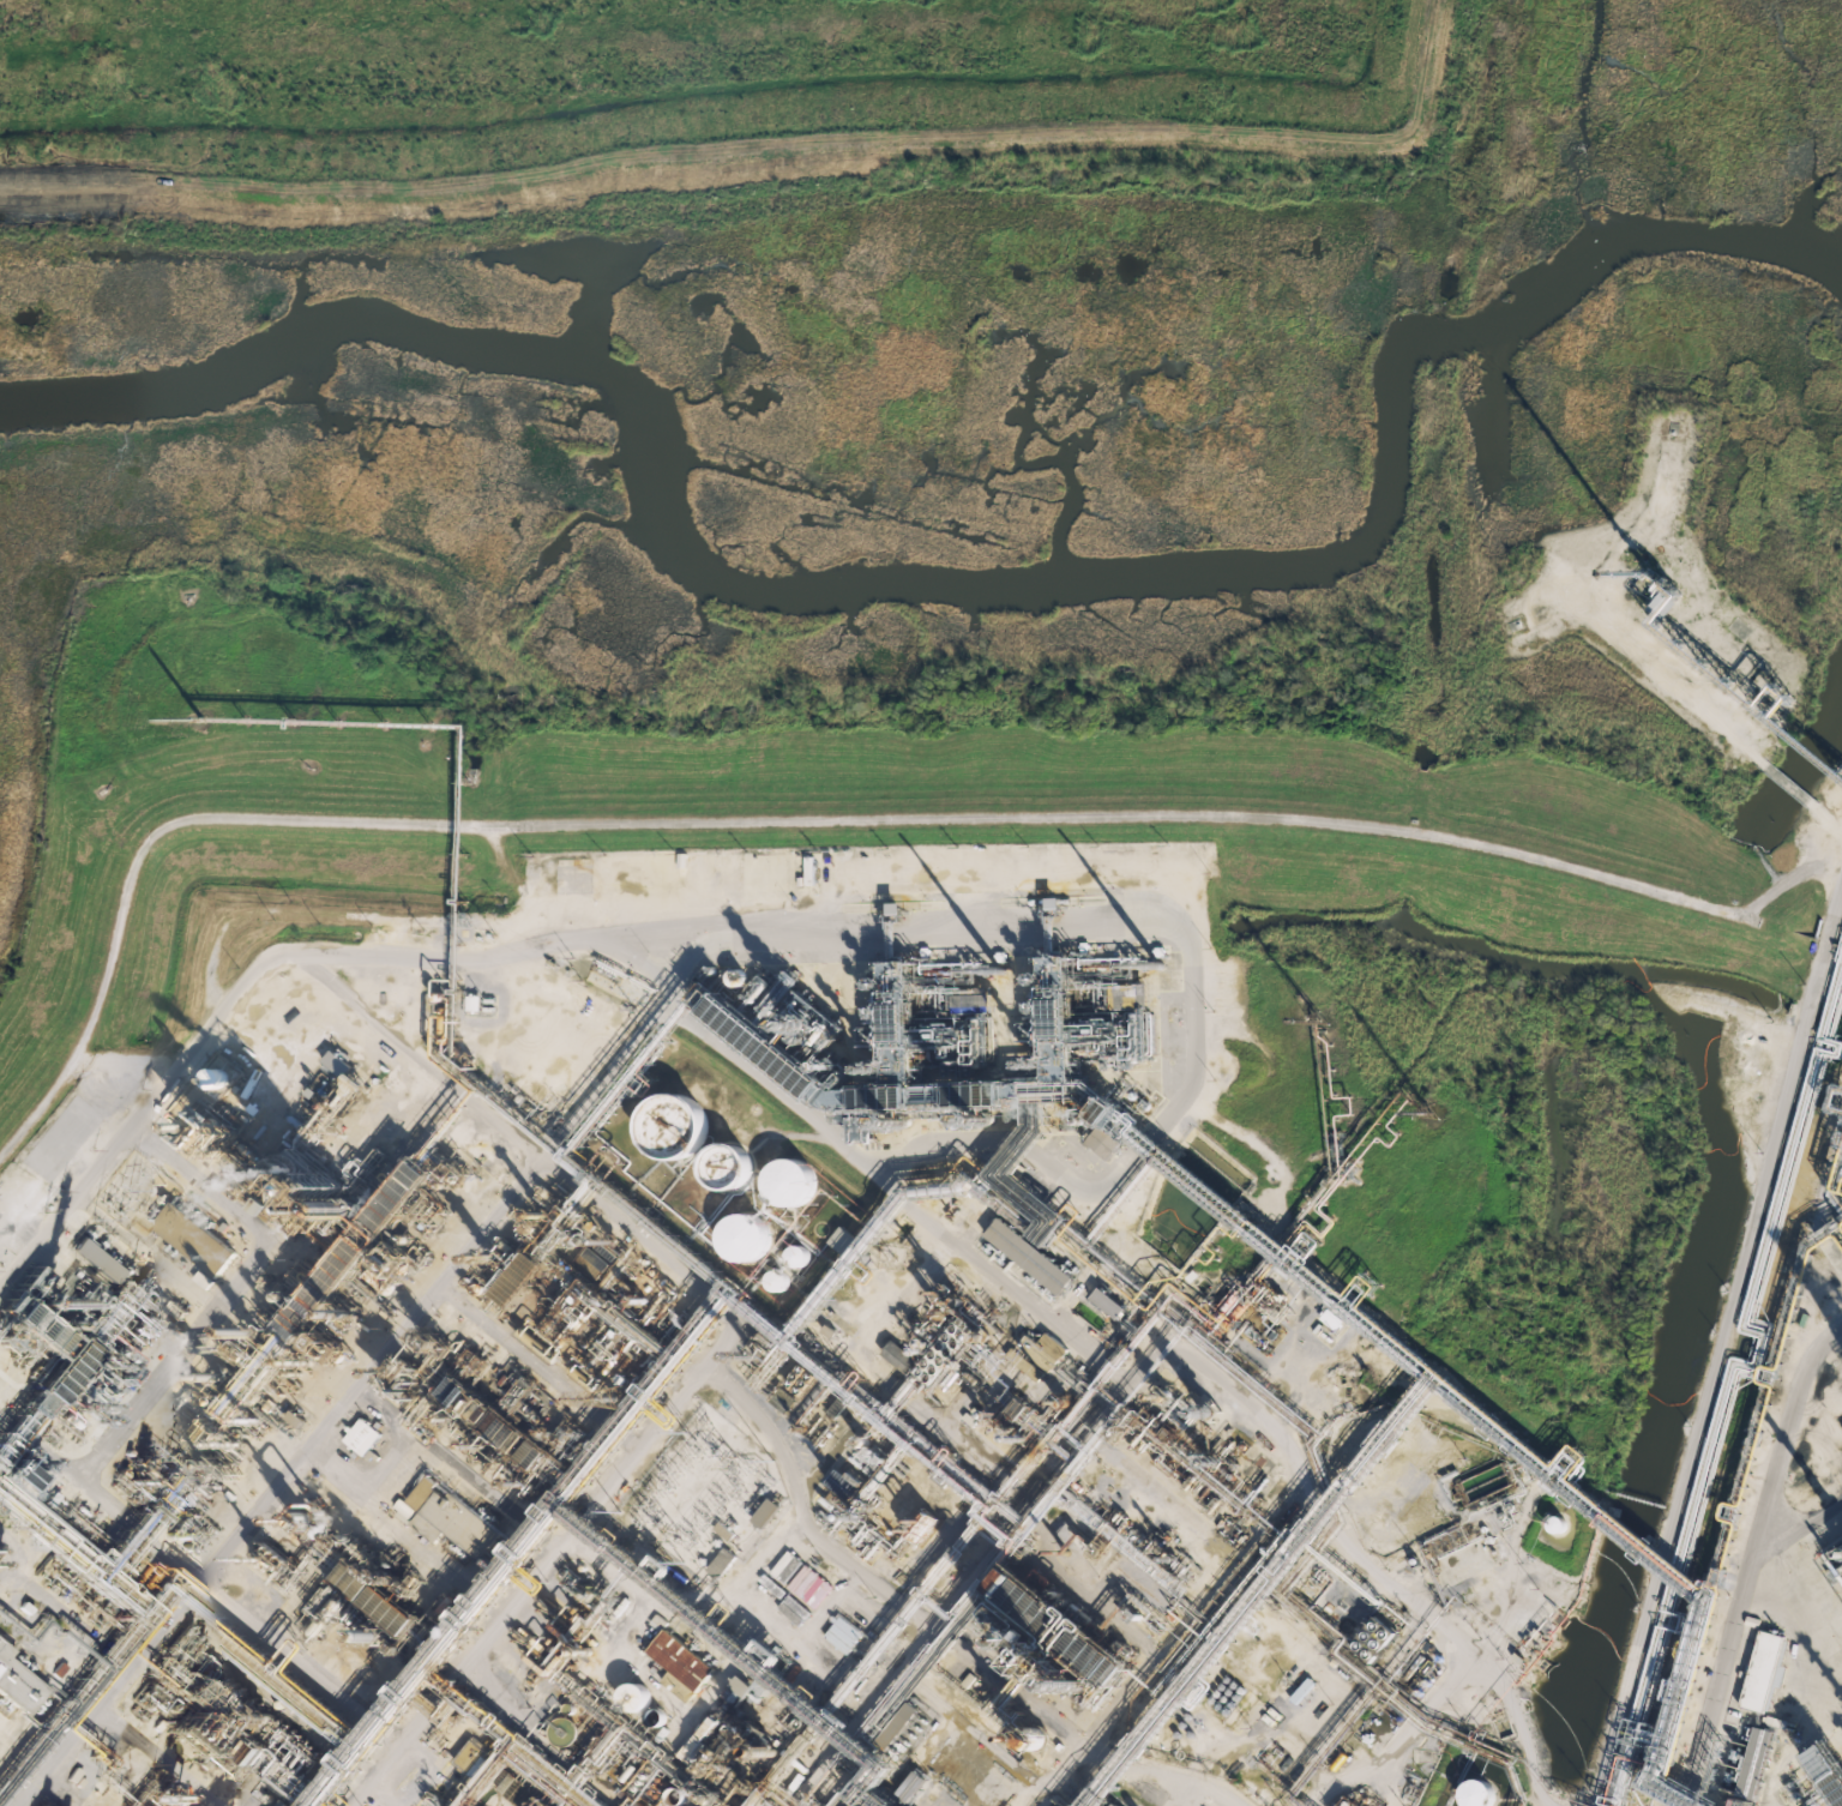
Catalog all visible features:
road: (823, 820)
building: (570, 871)
road: (740, 933)
building: (1057, 963)
building: (806, 1018)
building: (744, 1024)
building: (929, 1048)
building: (335, 1073)
building: (862, 1127)
building: (666, 1130)
building: (1104, 1142)
building: (720, 1168)
building: (782, 1184)
building: (329, 1203)
building: (194, 1227)
building: (738, 1238)
building: (790, 1253)
building: (1030, 1256)
building: (772, 1277)
building: (1108, 1302)
building: (1331, 1318)
building: (550, 1348)
building: (1037, 1354)
building: (899, 1355)
road: (359, 1371)
road: (1723, 1372)
building: (296, 1417)
building: (362, 1427)
building: (842, 1482)
building: (767, 1512)
building: (446, 1516)
building: (306, 1523)
building: (921, 1524)
road: (1744, 1553)
building: (273, 1560)
building: (383, 1603)
building: (1063, 1633)
building: (844, 1635)
building: (1374, 1638)
building: (559, 1643)
building: (678, 1655)
building: (1757, 1672)
building: (18, 1682)
building: (1302, 1690)
building: (627, 1696)
building: (903, 1720)
building: (723, 1723)
building: (470, 1754)
building: (1748, 1764)
building: (478, 1765)
building: (913, 1784)
building: (1464, 1794)
building: (432, 1800)
building: (284, 1804)
building: (1114, 1804)
building: (41, 1805)
building: (1108, 1805)

